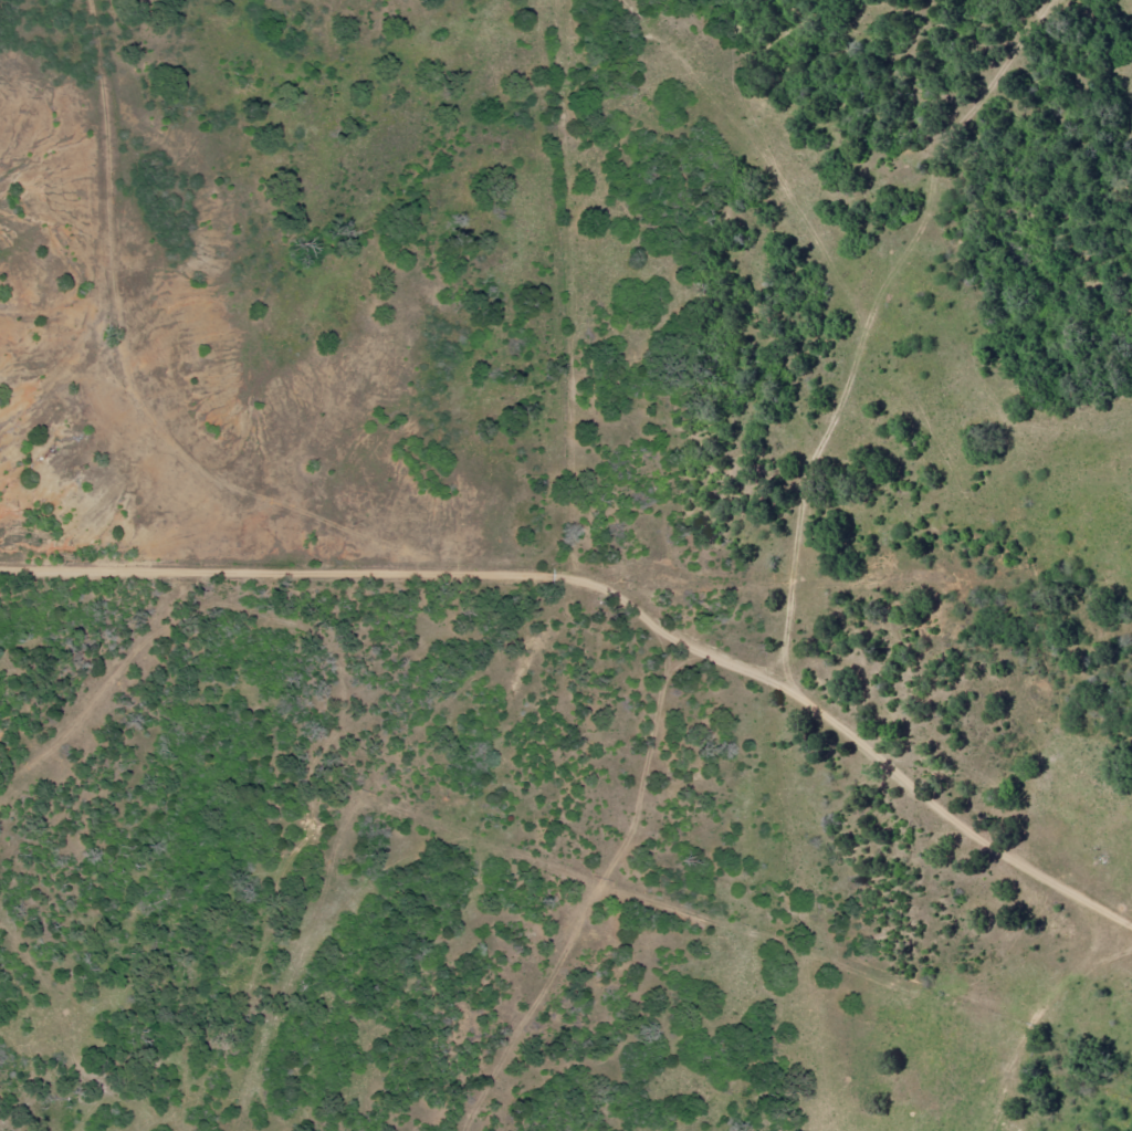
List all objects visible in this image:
road: (615, 588)

